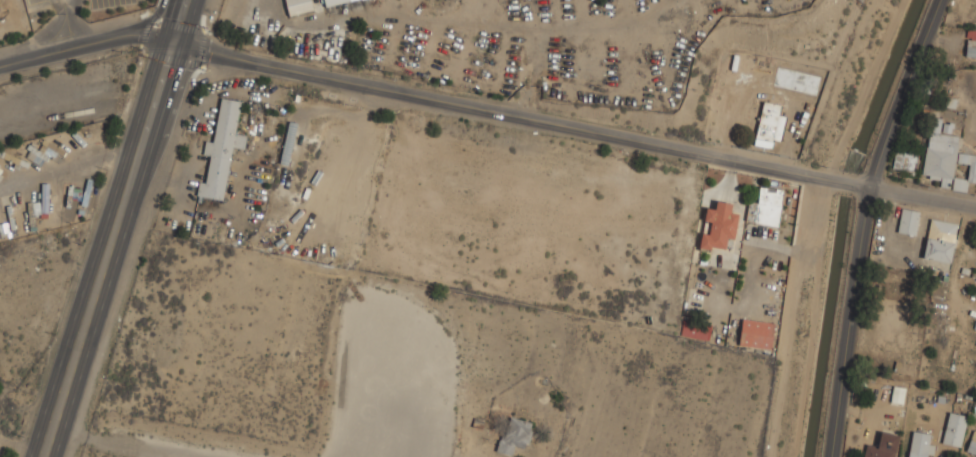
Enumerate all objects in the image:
building: (333, 1)
building: (299, 6)
road: (145, 19)
traffic signals: (176, 34)
road: (87, 41)
building: (971, 43)
building: (772, 121)
road: (573, 126)
building: (289, 142)
building: (221, 149)
building: (946, 156)
building: (905, 158)
road: (66, 165)
building: (0, 169)
building: (959, 184)
building: (766, 205)
building: (909, 220)
road: (863, 223)
building: (719, 226)
road: (111, 228)
building: (941, 240)
building: (891, 288)
road: (811, 315)
building: (696, 328)
building: (756, 332)
parking lot: (400, 378)
building: (898, 393)
building: (955, 428)
building: (515, 434)
building: (973, 442)
building: (921, 444)
building: (882, 445)

